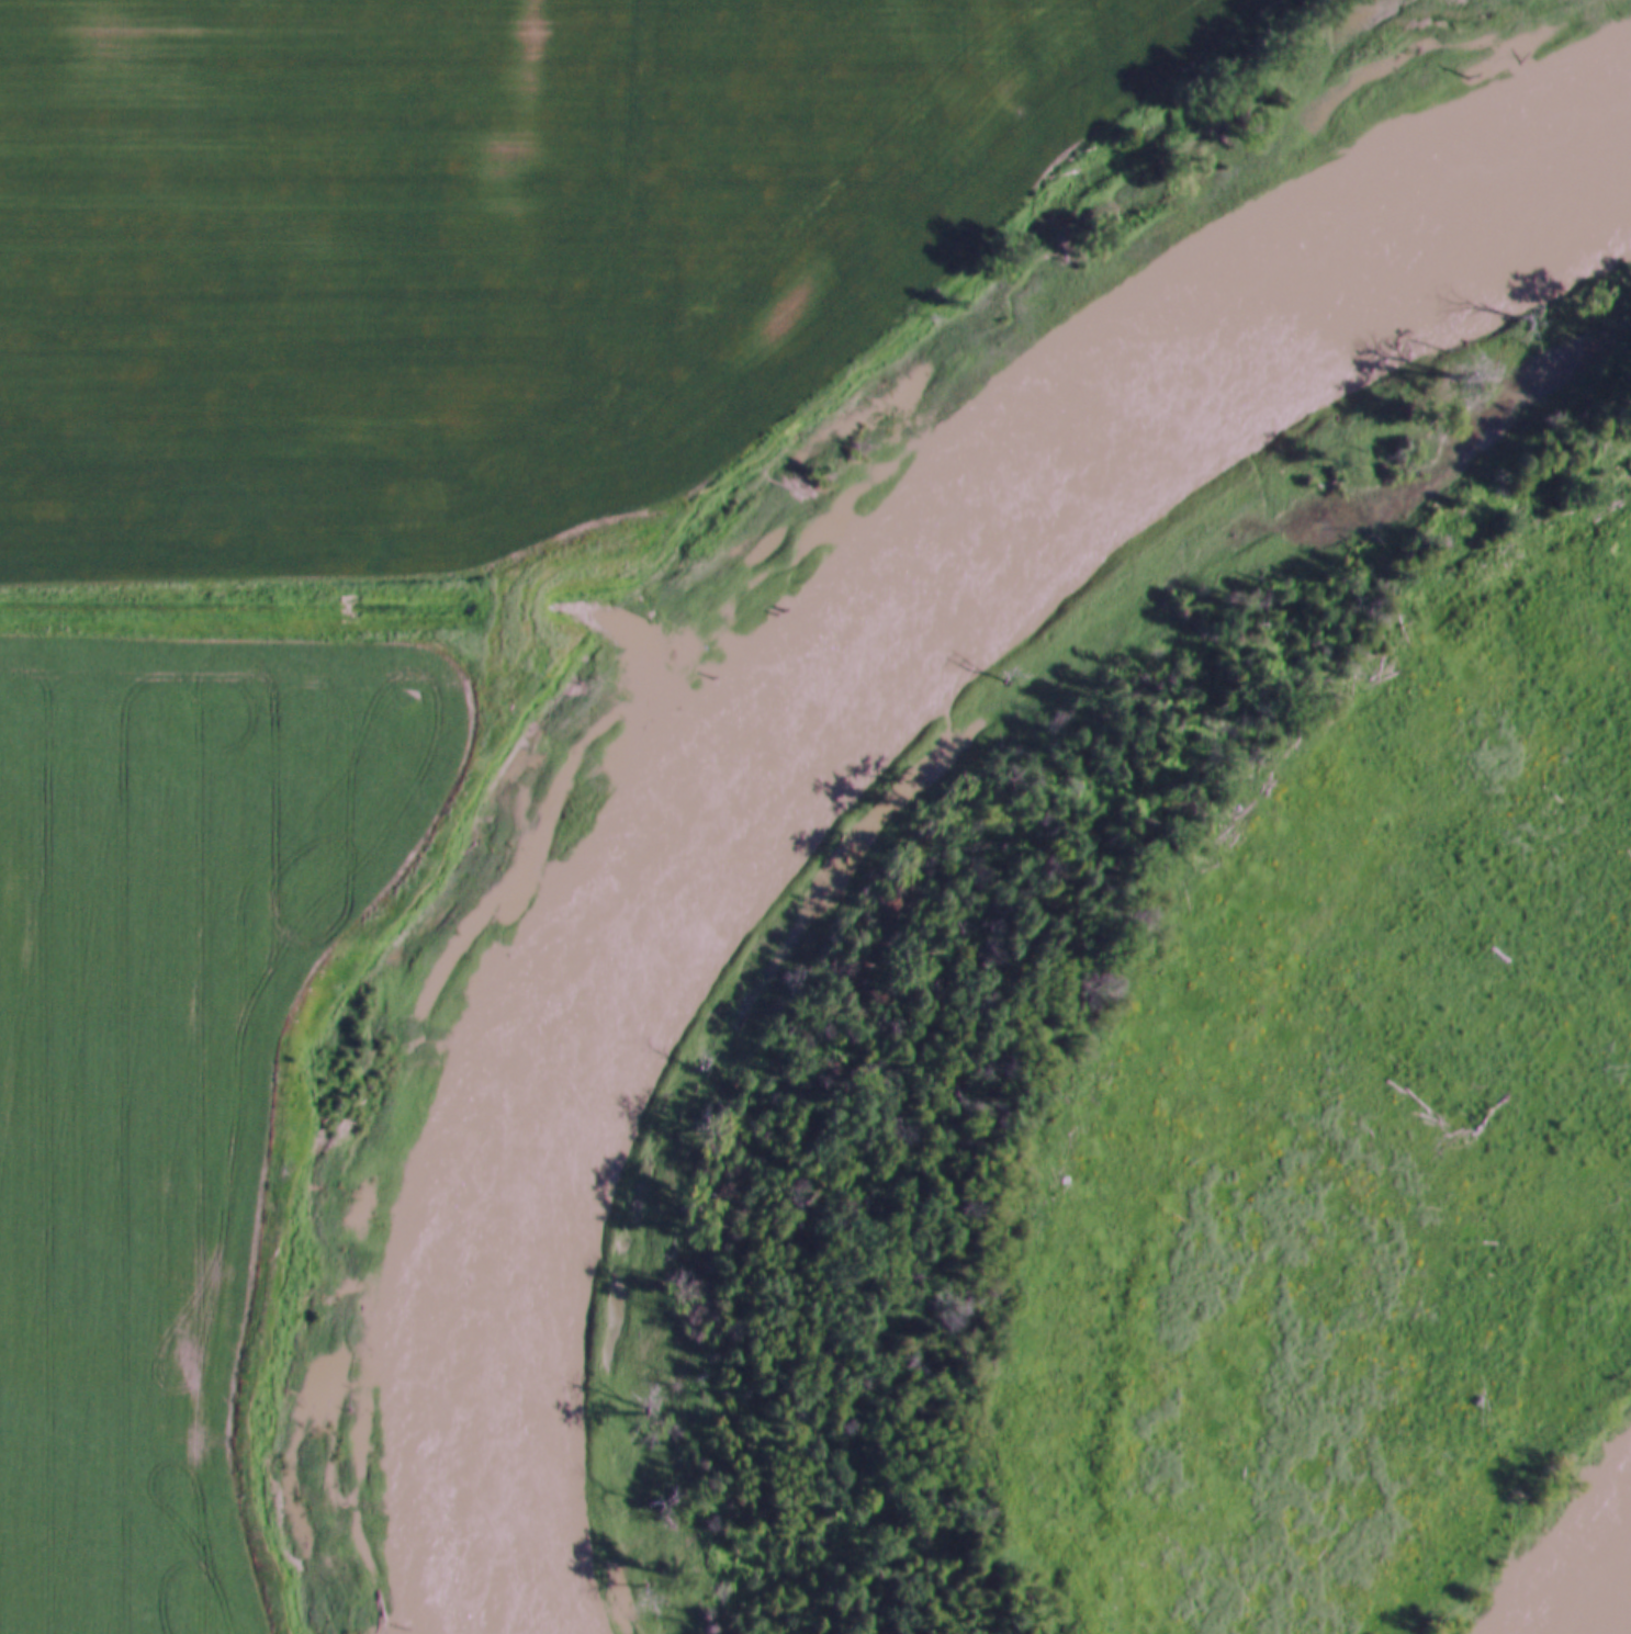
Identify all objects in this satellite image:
river: (818, 728)
river: (1606, 1601)

